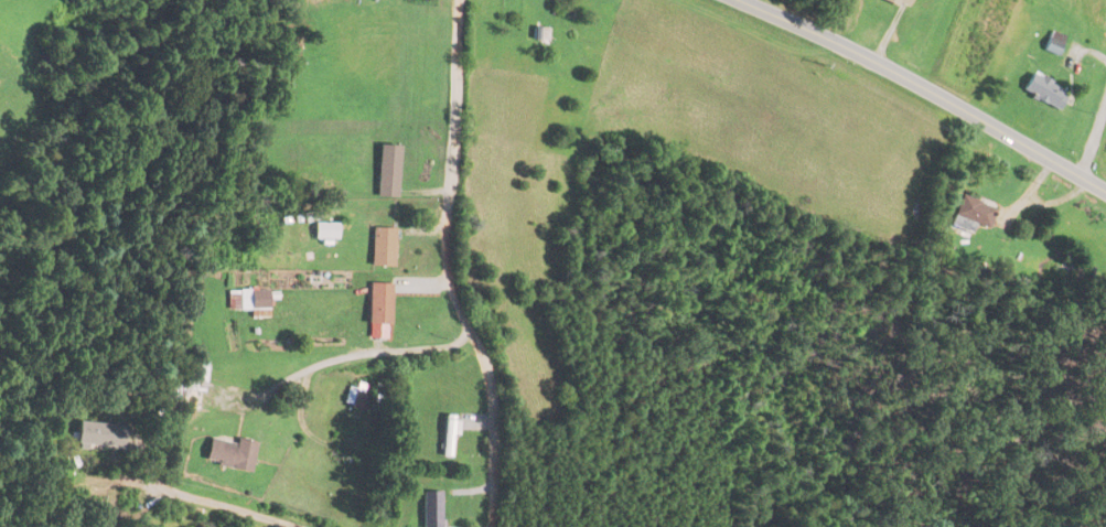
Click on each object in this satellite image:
building: (899, 2)
building: (1052, 44)
road: (926, 89)
building: (1043, 92)
road: (1094, 135)
building: (387, 170)
building: (971, 214)
building: (324, 230)
building: (382, 247)
road: (449, 268)
building: (249, 301)
building: (378, 311)
road: (356, 354)
building: (193, 385)
building: (449, 433)
building: (98, 434)
building: (228, 453)
road: (196, 499)
building: (430, 508)

